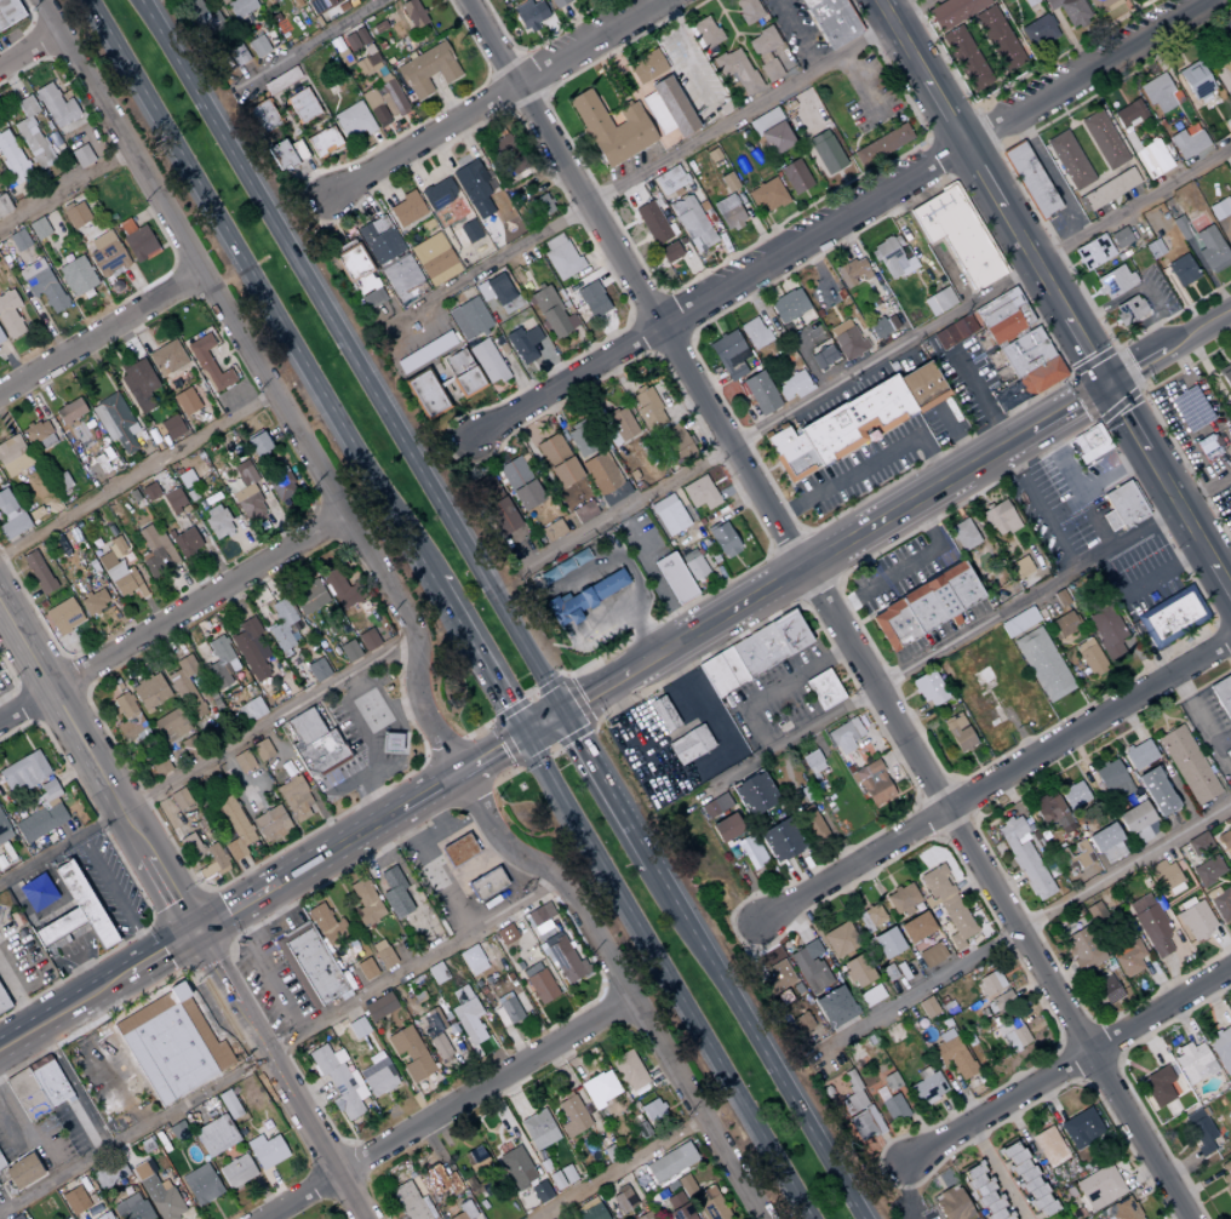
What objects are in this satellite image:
building: (349, 0)
parking lot: (912, 0)
building: (351, 1)
road: (377, 1)
building: (559, 2)
building: (321, 5)
road: (433, 5)
road: (635, 5)
building: (1100, 5)
road: (395, 6)
road: (219, 7)
building: (240, 7)
road: (613, 10)
building: (746, 11)
building: (954, 11)
building: (1069, 11)
building: (10, 12)
building: (413, 13)
building: (529, 15)
road: (599, 15)
road: (48, 16)
road: (32, 18)
building: (202, 18)
building: (829, 21)
road: (326, 23)
road: (573, 24)
building: (378, 27)
building: (1037, 32)
building: (705, 33)
building: (361, 35)
road: (538, 36)
building: (998, 39)
road: (336, 40)
building: (351, 41)
road: (538, 45)
building: (258, 46)
road: (307, 46)
road: (28, 48)
building: (370, 50)
building: (763, 52)
road: (519, 53)
building: (237, 55)
building: (344, 58)
building: (372, 58)
building: (966, 58)
building: (362, 67)
road: (505, 67)
building: (646, 67)
building: (428, 69)
building: (1224, 70)
road: (248, 73)
building: (734, 73)
road: (489, 75)
road: (56, 79)
road: (11, 81)
building: (280, 81)
building: (1195, 81)
road: (439, 87)
road: (286, 91)
road: (80, 92)
building: (1158, 93)
road: (443, 97)
road: (491, 97)
building: (384, 101)
building: (56, 105)
building: (300, 108)
building: (666, 108)
road: (86, 114)
building: (1128, 114)
building: (262, 119)
road: (394, 119)
building: (354, 120)
road: (424, 120)
road: (81, 128)
building: (611, 128)
road: (333, 132)
building: (771, 132)
building: (33, 135)
road: (297, 135)
building: (1103, 141)
building: (500, 143)
building: (1186, 143)
building: (321, 144)
road: (380, 145)
building: (880, 147)
road: (362, 149)
building: (825, 151)
road: (25, 154)
building: (81, 155)
building: (288, 156)
building: (1149, 156)
building: (13, 159)
building: (1069, 160)
road: (662, 162)
building: (516, 164)
building: (794, 177)
building: (1030, 179)
building: (668, 181)
building: (727, 182)
road: (320, 185)
road: (63, 189)
building: (473, 189)
building: (1109, 189)
road: (990, 191)
building: (437, 194)
building: (767, 195)
building: (4, 205)
building: (67, 206)
building: (1219, 208)
building: (405, 210)
building: (532, 210)
building: (727, 212)
road: (147, 213)
building: (76, 214)
road: (841, 217)
building: (652, 223)
building: (691, 223)
road: (55, 224)
building: (126, 225)
building: (39, 228)
building: (1180, 229)
building: (469, 231)
building: (1230, 233)
building: (956, 234)
building: (1120, 237)
building: (18, 240)
building: (378, 240)
building: (139, 242)
road: (51, 246)
road: (162, 246)
building: (1210, 250)
building: (151, 252)
building: (669, 252)
building: (1092, 252)
building: (104, 253)
building: (560, 256)
building: (34, 257)
building: (13, 258)
building: (64, 258)
building: (892, 258)
building: (434, 259)
building: (30, 269)
road: (168, 269)
building: (1180, 270)
building: (851, 273)
building: (357, 274)
building: (76, 275)
road: (4, 279)
building: (402, 280)
building: (1113, 281)
road: (137, 285)
building: (498, 288)
building: (46, 290)
road: (253, 291)
building: (591, 299)
building: (938, 302)
building: (788, 305)
building: (1128, 310)
road: (22, 313)
building: (550, 313)
building: (10, 314)
building: (1001, 316)
building: (468, 319)
road: (47, 326)
building: (882, 327)
road: (99, 331)
building: (951, 332)
building: (754, 333)
building: (1, 337)
building: (847, 340)
building: (522, 344)
road: (1167, 344)
building: (728, 355)
building: (166, 357)
road: (349, 357)
road: (881, 359)
road: (10, 361)
building: (486, 362)
building: (1030, 362)
building: (208, 364)
building: (462, 373)
building: (1226, 379)
traffic signals: (1105, 383)
building: (138, 384)
building: (792, 387)
building: (760, 393)
building: (425, 395)
building: (185, 401)
road: (1069, 405)
building: (1190, 408)
building: (647, 410)
building: (69, 411)
building: (854, 420)
building: (114, 422)
building: (167, 429)
building: (38, 435)
road: (1013, 439)
building: (578, 442)
building: (1092, 442)
building: (258, 443)
building: (672, 445)
building: (12, 457)
building: (557, 460)
road: (868, 463)
building: (600, 473)
road: (137, 474)
building: (519, 483)
road: (1094, 483)
building: (280, 485)
building: (482, 487)
road: (1167, 490)
building: (149, 492)
building: (247, 493)
building: (699, 493)
building: (173, 500)
building: (1121, 507)
road: (1038, 509)
building: (583, 511)
building: (668, 515)
building: (10, 516)
building: (500, 516)
building: (998, 519)
building: (216, 521)
building: (551, 531)
building: (962, 534)
building: (722, 540)
building: (185, 542)
building: (154, 550)
building: (692, 565)
road: (808, 565)
road: (903, 566)
building: (1019, 567)
building: (36, 572)
building: (119, 572)
building: (674, 578)
building: (338, 590)
building: (308, 597)
building: (583, 599)
building: (93, 601)
building: (924, 606)
road: (826, 608)
building: (62, 617)
building: (1172, 619)
building: (1018, 622)
road: (173, 624)
building: (1063, 624)
building: (282, 625)
road: (414, 631)
road: (975, 633)
building: (1106, 633)
building: (367, 640)
building: (251, 649)
building: (348, 651)
building: (752, 653)
building: (1090, 657)
road: (479, 659)
building: (219, 662)
building: (1042, 664)
building: (316, 670)
building: (187, 686)
road: (772, 687)
building: (928, 688)
building: (823, 689)
building: (149, 692)
building: (1223, 696)
road: (591, 698)
building: (662, 714)
building: (126, 716)
traffic signals: (559, 719)
building: (166, 727)
road: (542, 729)
road: (671, 733)
building: (958, 733)
building: (843, 736)
traffic signals: (525, 740)
building: (394, 743)
gas station: (394, 743)
building: (689, 744)
building: (188, 746)
building: (260, 750)
building: (1138, 755)
road: (207, 757)
road: (492, 759)
building: (242, 761)
building: (812, 762)
building: (158, 765)
building: (1186, 765)
road: (98, 768)
building: (23, 772)
building: (1111, 780)
building: (872, 784)
road: (996, 784)
road: (601, 791)
building: (1156, 791)
building: (754, 795)
building: (1072, 795)
road: (429, 796)
building: (179, 799)
building: (293, 799)
building: (1050, 814)
building: (41, 818)
building: (721, 818)
building: (1136, 822)
building: (811, 823)
building: (270, 824)
building: (234, 828)
building: (2, 832)
building: (779, 841)
building: (1224, 842)
building: (1106, 843)
building: (1197, 843)
building: (458, 849)
building: (750, 852)
road: (334, 853)
building: (201, 855)
building: (1073, 857)
building: (1024, 859)
building: (1207, 870)
building: (1169, 877)
building: (485, 885)
building: (394, 893)
building: (901, 898)
road: (115, 899)
building: (945, 900)
building: (365, 903)
building: (1220, 903)
building: (74, 911)
building: (1094, 911)
road: (233, 914)
building: (540, 914)
building: (870, 918)
building: (1195, 918)
road: (1038, 921)
building: (326, 926)
building: (1150, 926)
building: (915, 927)
building: (504, 934)
traffic signals: (195, 937)
building: (838, 939)
building: (886, 943)
building: (1081, 951)
road: (254, 954)
building: (382, 954)
building: (931, 955)
road: (162, 956)
building: (1127, 957)
building: (471, 960)
building: (563, 960)
building: (311, 963)
building: (809, 966)
building: (365, 968)
building: (855, 971)
building: (775, 978)
road: (666, 979)
building: (538, 983)
building: (1107, 989)
building: (992, 991)
building: (870, 996)
road: (18, 1001)
building: (2, 1003)
building: (378, 1007)
building: (834, 1007)
building: (927, 1007)
building: (505, 1011)
road: (64, 1015)
building: (466, 1015)
building: (433, 1020)
building: (356, 1028)
building: (805, 1028)
building: (1012, 1035)
road: (754, 1041)
road: (277, 1043)
building: (171, 1045)
building: (440, 1048)
building: (1221, 1048)
building: (410, 1052)
road: (96, 1053)
building: (954, 1057)
building: (1192, 1063)
road: (1067, 1066)
building: (629, 1071)
road: (280, 1077)
building: (377, 1077)
building: (338, 1081)
building: (926, 1086)
building: (36, 1088)
building: (600, 1088)
building: (1161, 1089)
building: (893, 1108)
road: (453, 1110)
building: (651, 1110)
building: (858, 1110)
building: (572, 1116)
building: (1080, 1128)
road: (7, 1129)
building: (538, 1129)
building: (1198, 1131)
building: (214, 1135)
building: (1048, 1146)
building: (268, 1152)
building: (474, 1157)
building: (670, 1163)
road: (619, 1167)
building: (515, 1168)
road: (1000, 1171)
building: (19, 1172)
building: (235, 1172)
building: (109, 1173)
building: (1225, 1174)
building: (1026, 1179)
building: (436, 1181)
building: (200, 1185)
building: (1098, 1187)
road: (907, 1191)
building: (158, 1192)
building: (539, 1192)
building: (983, 1192)
building: (702, 1198)
building: (74, 1200)
building: (411, 1202)
building: (951, 1203)
building: (676, 1207)
building: (131, 1208)
building: (1121, 1209)
building: (588, 1211)
building: (460, 1213)
building: (104, 1215)
building: (643, 1215)
building: (19, 1217)

